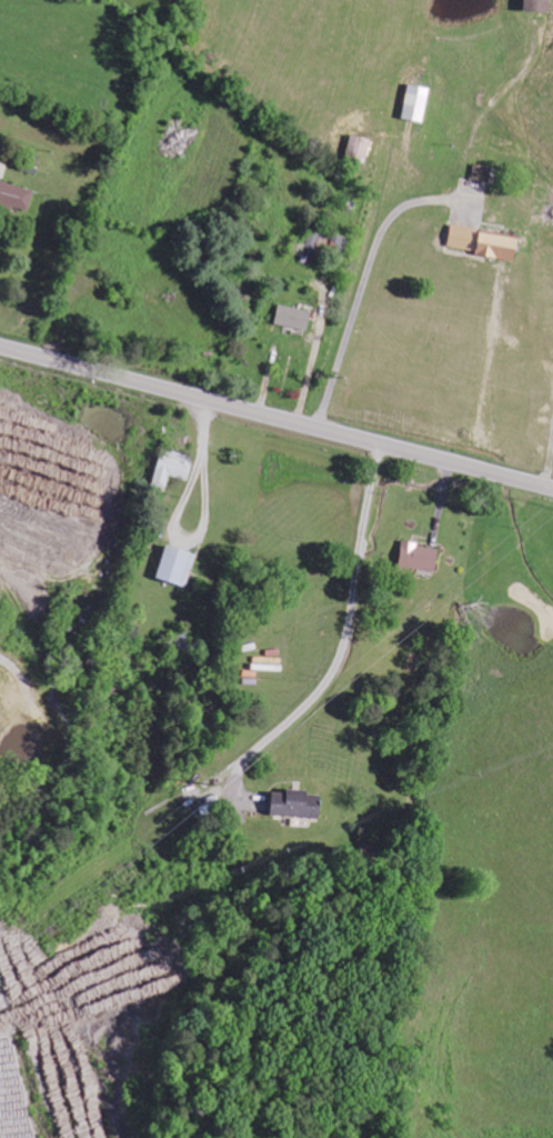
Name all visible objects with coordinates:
building: (541, 4)
building: (419, 102)
building: (361, 147)
building: (3, 169)
building: (483, 172)
building: (17, 194)
building: (486, 242)
building: (295, 317)
road: (276, 416)
building: (174, 468)
building: (421, 556)
building: (180, 565)
building: (299, 805)

